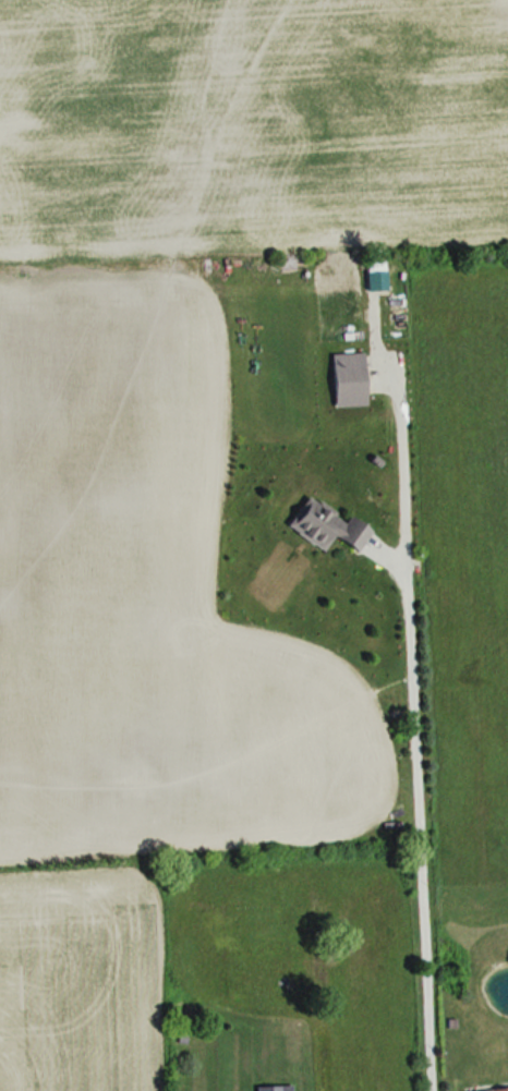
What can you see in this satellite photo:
building: (348, 380)
building: (328, 526)
building: (274, 1088)
building: (495, 1089)

